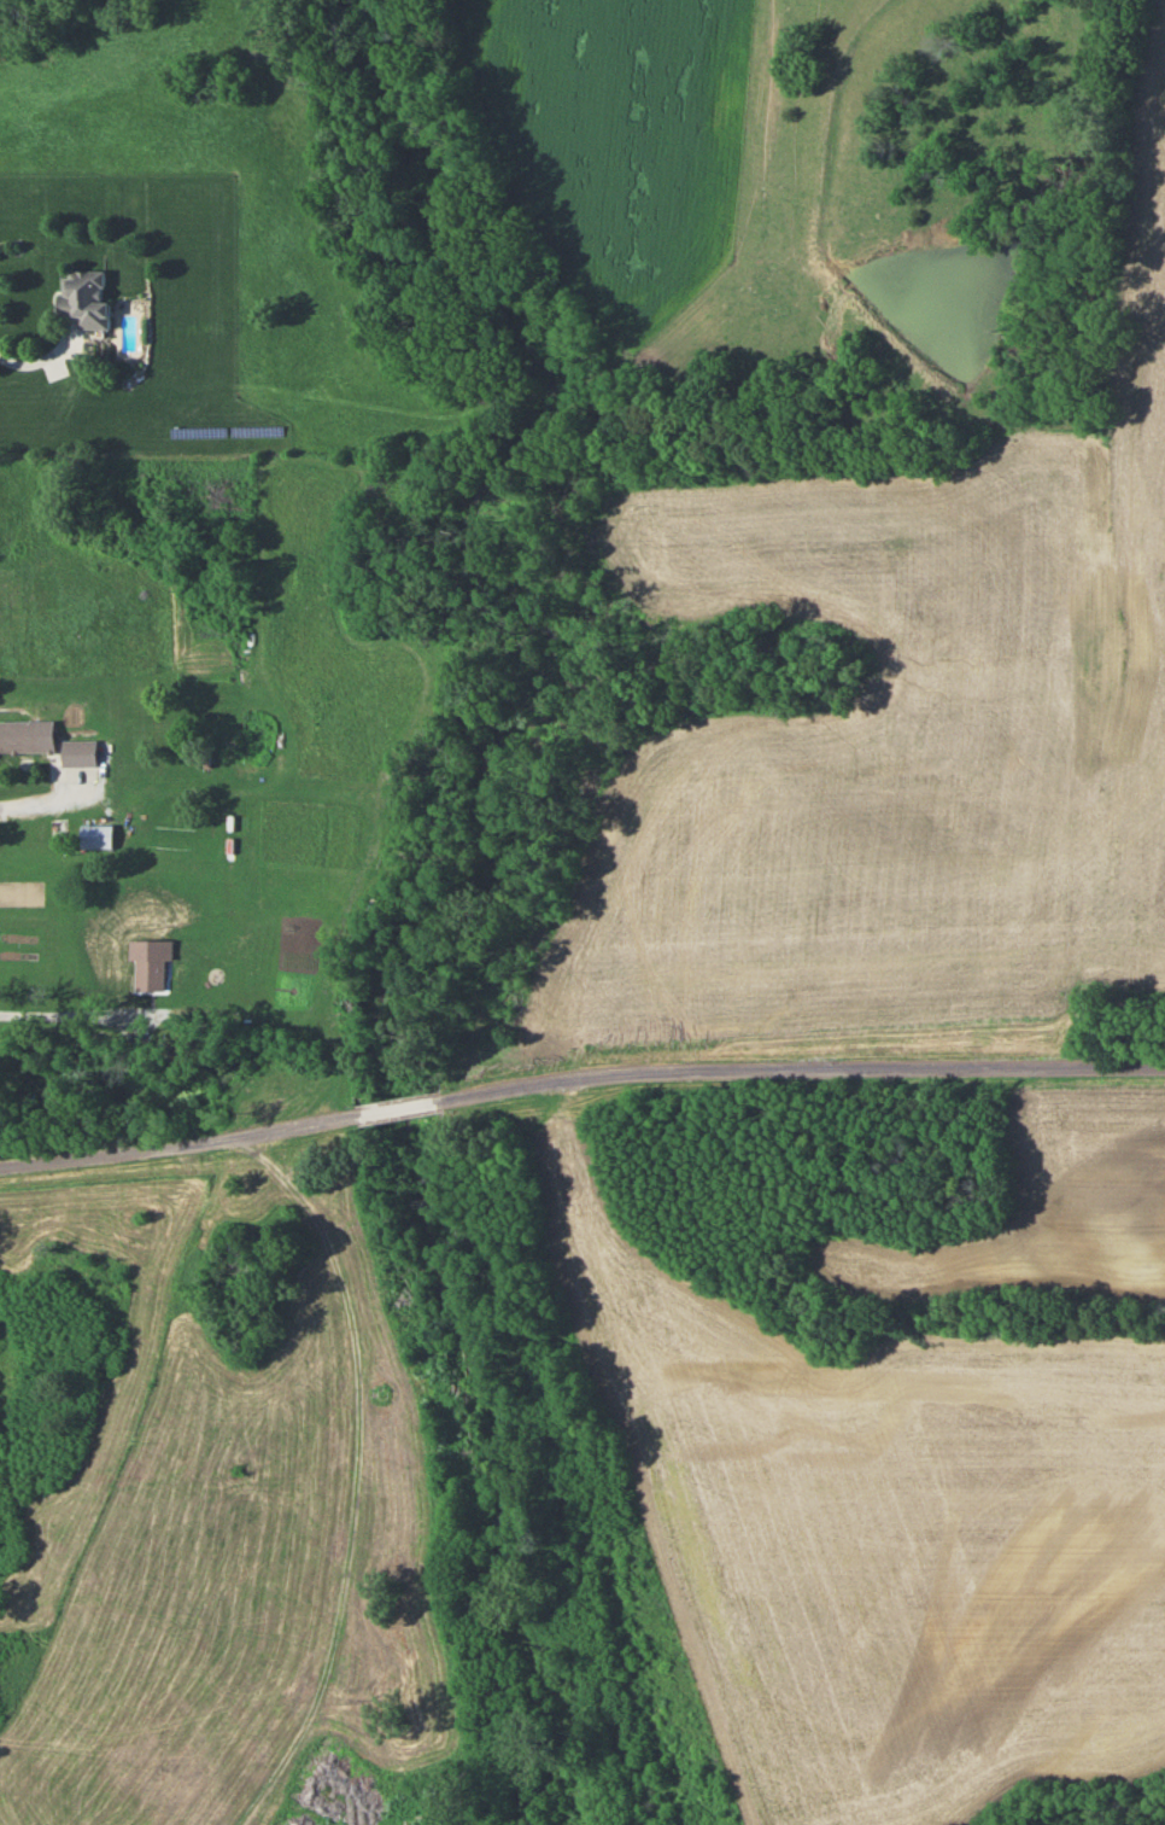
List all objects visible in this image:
crop: (605, 135)
building: (83, 297)
crop: (1141, 503)
building: (25, 735)
building: (77, 752)
crop: (830, 776)
road: (52, 800)
building: (94, 836)
road: (54, 1008)
road: (579, 1078)
crop: (1031, 1206)
road: (160, 1211)
building: (94, 1242)
road: (335, 1406)
road: (645, 1463)
crop: (853, 1538)

